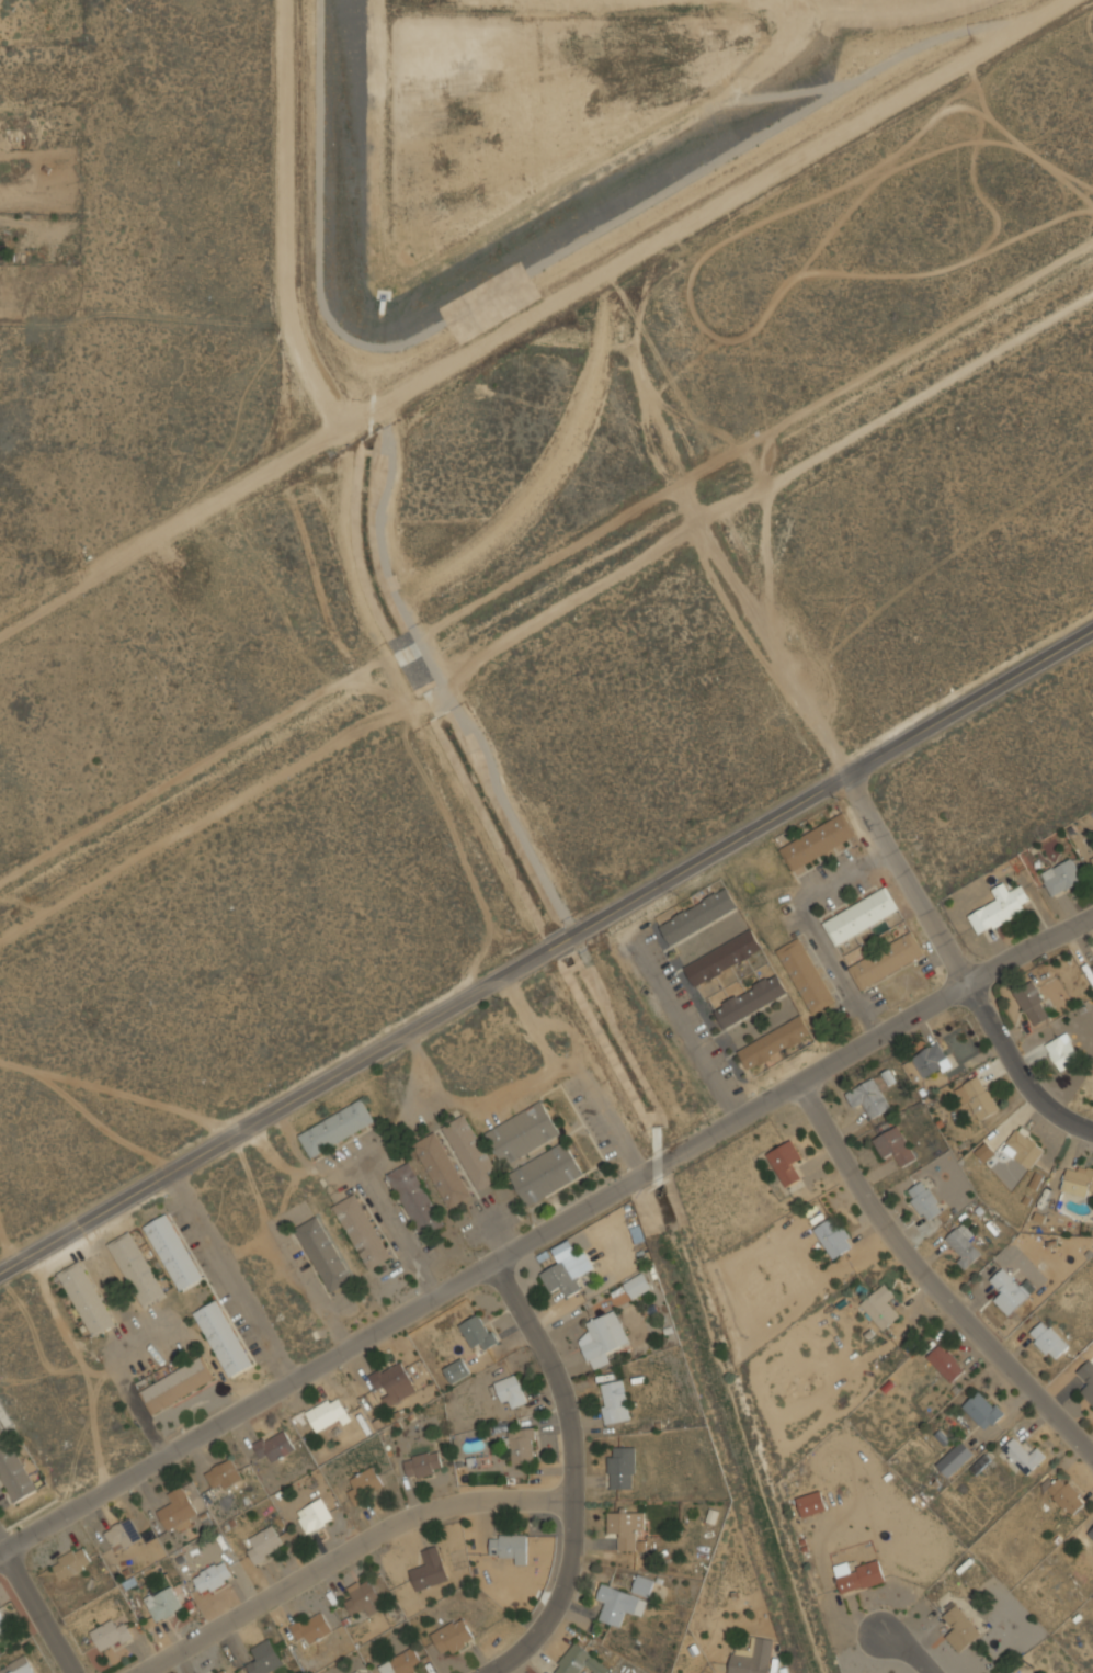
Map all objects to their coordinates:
road: (692, 113)
road: (284, 234)
road: (539, 318)
road: (661, 438)
road: (546, 614)
road: (408, 715)
road: (881, 840)
building: (817, 841)
building: (1092, 846)
building: (1091, 855)
building: (1061, 877)
building: (1001, 906)
building: (697, 915)
building: (861, 916)
building: (722, 958)
road: (548, 959)
building: (886, 961)
building: (1092, 967)
building: (806, 975)
building: (750, 1001)
building: (1032, 1003)
road: (688, 1029)
building: (774, 1042)
building: (1062, 1051)
building: (931, 1061)
building: (977, 1097)
building: (867, 1098)
road: (141, 1099)
road: (88, 1116)
building: (337, 1128)
building: (523, 1133)
building: (893, 1146)
building: (1022, 1149)
building: (471, 1152)
building: (984, 1152)
building: (786, 1162)
building: (442, 1169)
building: (546, 1174)
building: (1077, 1179)
building: (415, 1199)
building: (923, 1200)
building: (362, 1231)
road: (546, 1232)
building: (833, 1236)
building: (963, 1245)
building: (173, 1252)
building: (323, 1254)
building: (137, 1269)
building: (560, 1278)
road: (930, 1281)
building: (637, 1286)
building: (1006, 1291)
building: (87, 1299)
building: (880, 1307)
building: (477, 1333)
building: (224, 1337)
building: (601, 1338)
building: (1047, 1341)
building: (945, 1363)
building: (456, 1370)
building: (1086, 1379)
building: (392, 1383)
building: (177, 1384)
building: (511, 1392)
building: (614, 1402)
building: (983, 1410)
building: (326, 1413)
building: (273, 1445)
building: (522, 1446)
building: (1023, 1456)
building: (955, 1459)
building: (423, 1465)
building: (12, 1466)
building: (620, 1468)
building: (223, 1476)
road: (572, 1476)
building: (365, 1484)
building: (1066, 1495)
building: (811, 1504)
building: (178, 1512)
building: (314, 1516)
building: (625, 1527)
building: (1091, 1534)
building: (123, 1536)
building: (264, 1545)
building: (510, 1547)
road: (348, 1551)
building: (71, 1563)
building: (429, 1568)
building: (857, 1575)
building: (213, 1578)
building: (642, 1585)
building: (364, 1599)
building: (162, 1603)
building: (618, 1605)
road: (38, 1612)
building: (2, 1625)
building: (310, 1628)
building: (959, 1628)
building: (110, 1636)
building: (452, 1637)
road: (909, 1652)
building: (752, 1657)
building: (263, 1659)
building: (579, 1661)
building: (402, 1663)
building: (18, 1666)
building: (219, 1671)
building: (358, 1672)
building: (1012, 1672)

